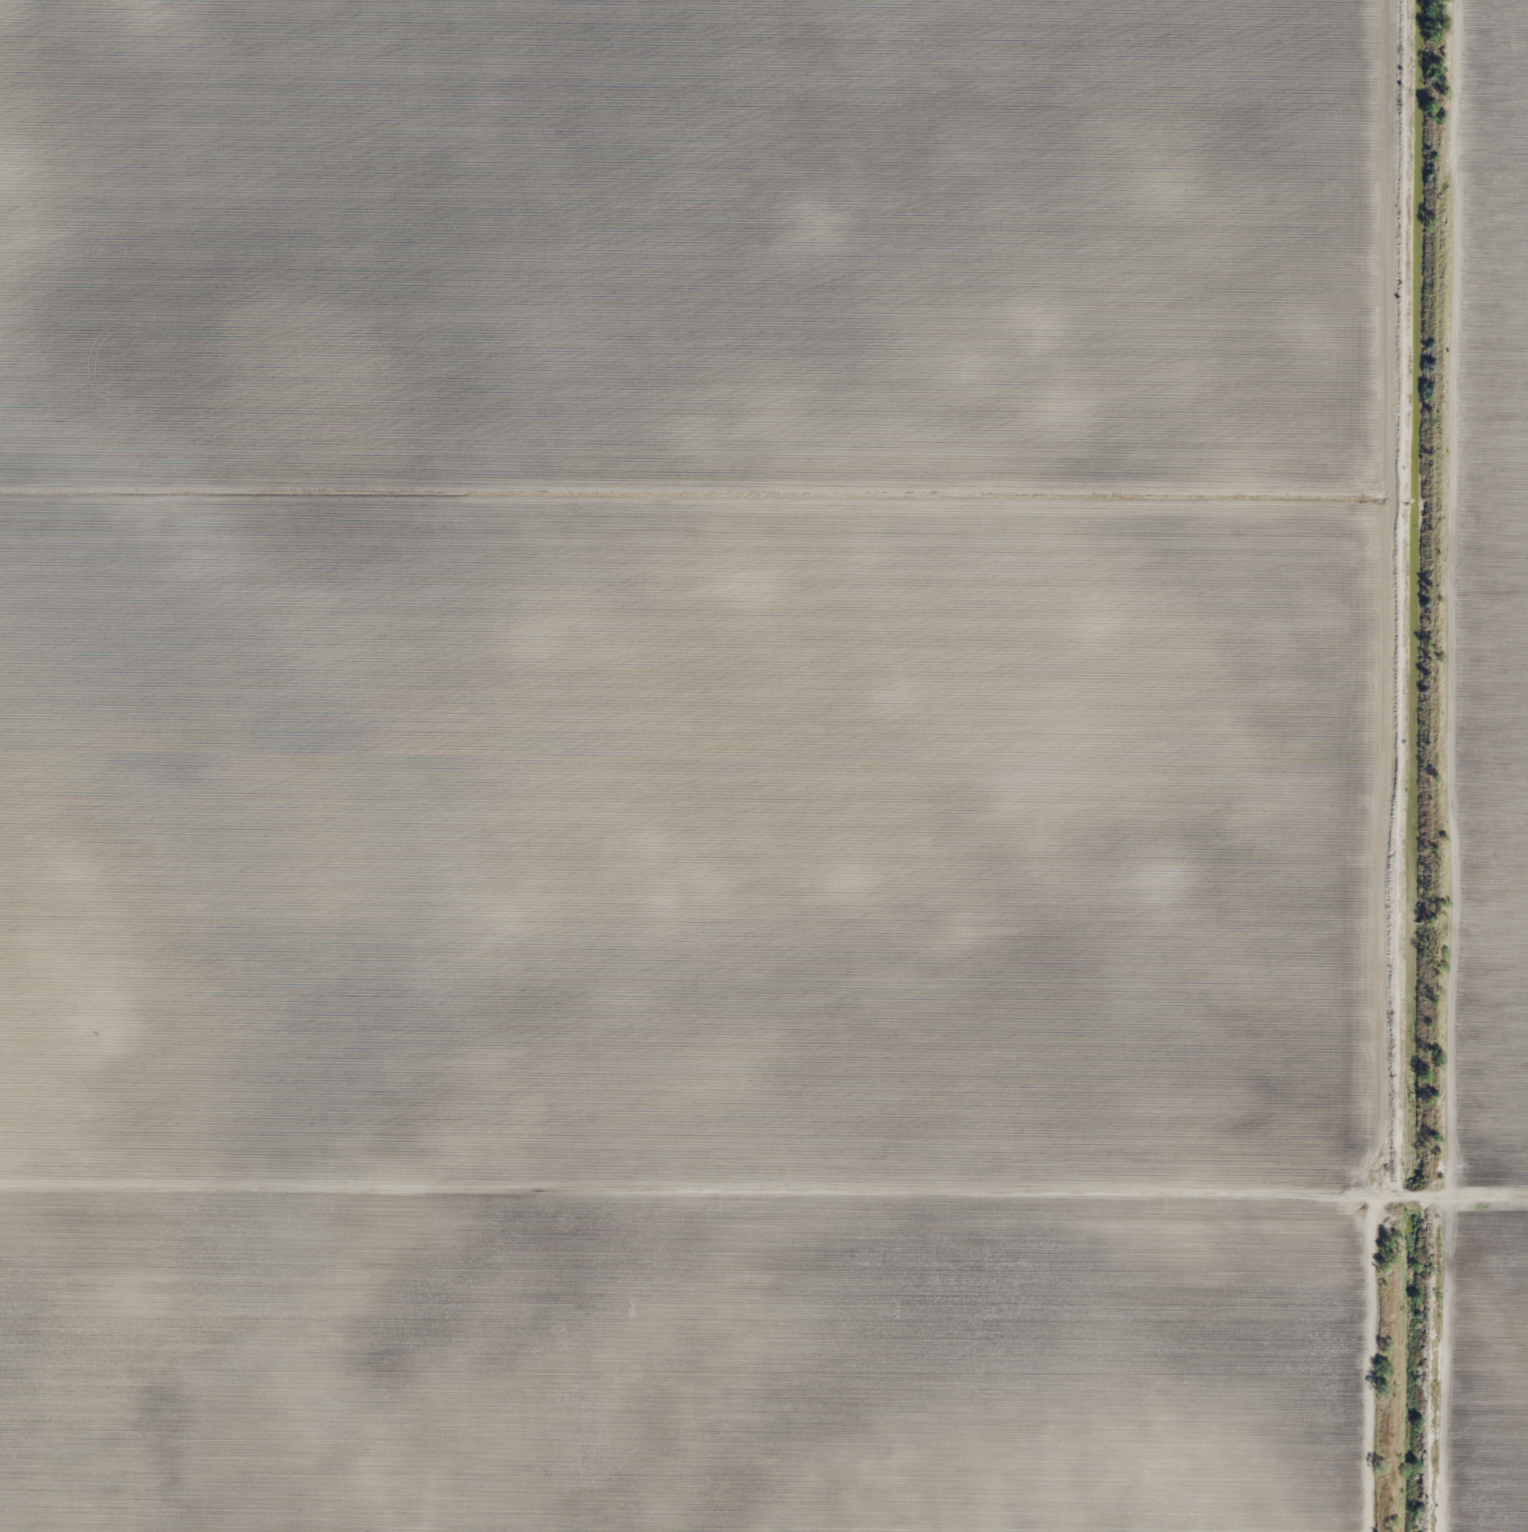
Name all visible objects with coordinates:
road: (1266, 1367)

